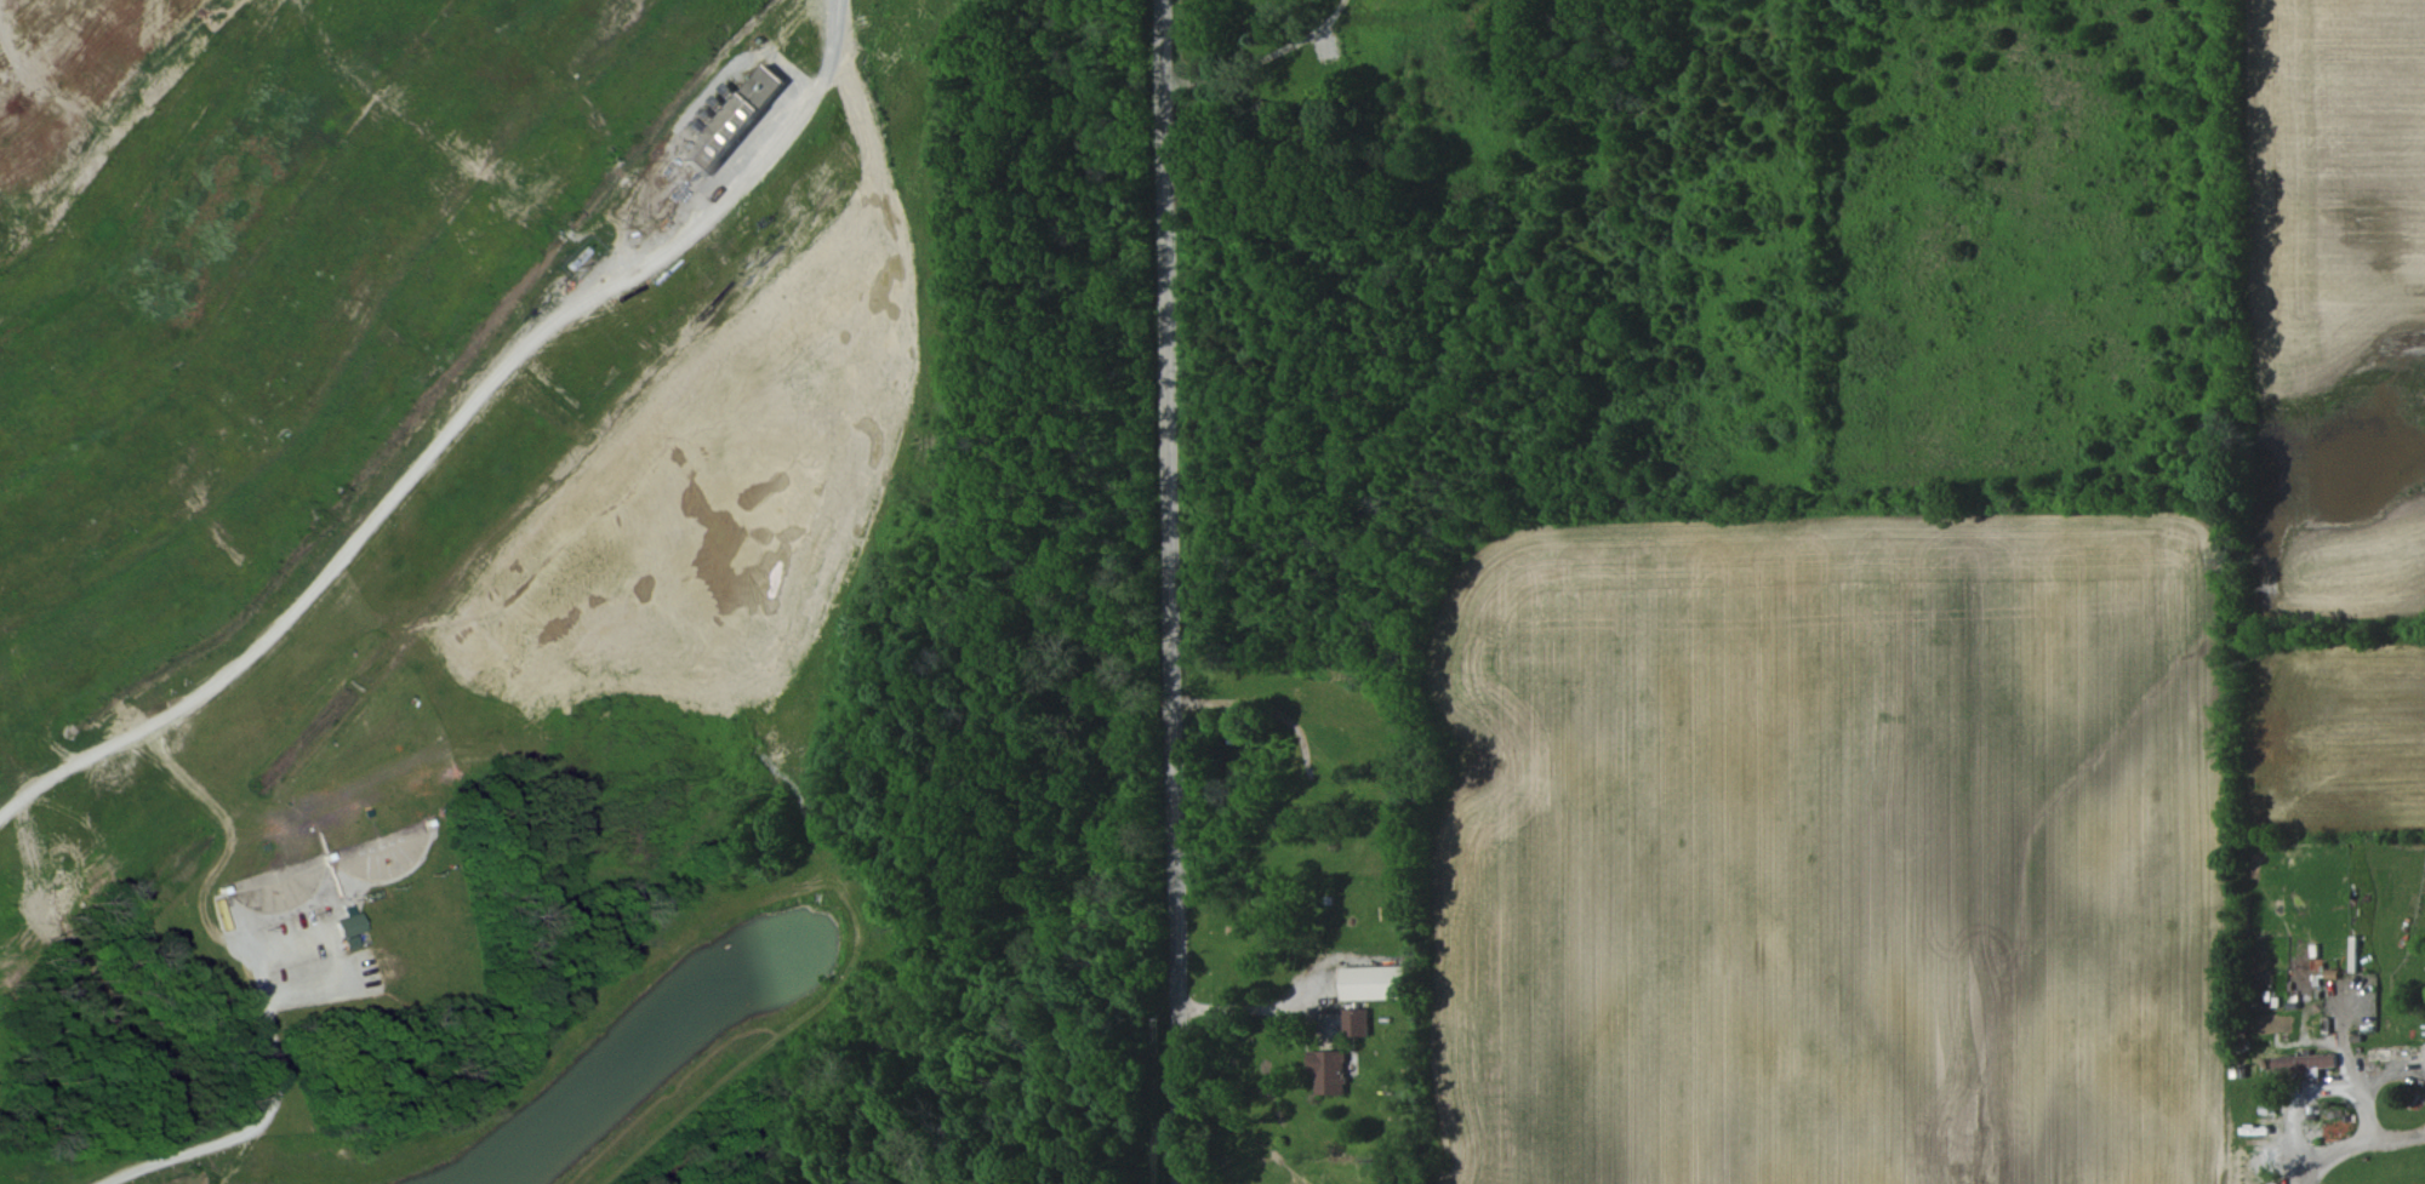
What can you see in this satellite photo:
road: (1260, 59)
building: (734, 120)
road: (449, 427)
road: (1170, 591)
building: (349, 930)
building: (1374, 982)
road: (1245, 1006)
building: (1356, 1022)
building: (2305, 1062)
building: (1329, 1070)
road: (228, 1137)
road: (2352, 1137)

